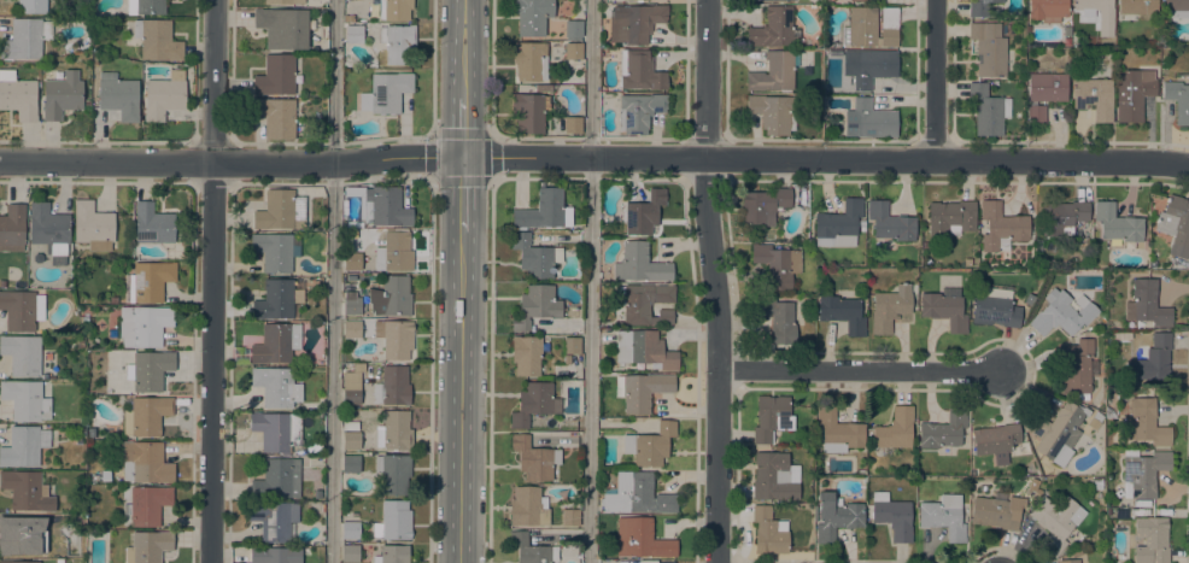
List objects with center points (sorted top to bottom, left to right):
building: (862, 0)
building: (281, 1)
building: (31, 6)
building: (146, 6)
building: (979, 7)
building: (394, 8)
building: (1135, 8)
building: (1176, 8)
building: (1048, 10)
building: (532, 16)
building: (1097, 16)
building: (638, 23)
building: (282, 27)
building: (871, 27)
building: (573, 28)
building: (774, 28)
building: (353, 34)
building: (25, 37)
building: (157, 40)
building: (396, 41)
building: (989, 48)
road: (462, 49)
building: (573, 49)
building: (529, 60)
building: (873, 66)
road: (433, 68)
road: (490, 68)
building: (639, 70)
building: (773, 71)
building: (275, 75)
road: (933, 80)
building: (543, 88)
building: (385, 93)
building: (1044, 93)
building: (1134, 93)
building: (61, 95)
building: (118, 95)
building: (18, 96)
building: (163, 96)
building: (1094, 96)
building: (1178, 100)
building: (87, 102)
building: (988, 110)
building: (638, 111)
building: (529, 112)
building: (773, 112)
building: (275, 116)
building: (869, 119)
building: (573, 124)
road: (462, 128)
road: (430, 135)
road: (594, 157)
road: (462, 194)
building: (381, 205)
building: (763, 205)
building: (281, 210)
building: (544, 211)
building: (640, 212)
building: (951, 217)
building: (1062, 217)
building: (890, 222)
building: (1117, 223)
building: (152, 224)
building: (838, 224)
building: (861, 224)
building: (1176, 224)
building: (92, 225)
building: (1001, 225)
building: (12, 228)
building: (48, 230)
building: (274, 251)
building: (394, 252)
building: (534, 257)
building: (352, 260)
building: (966, 262)
building: (639, 263)
building: (777, 264)
building: (148, 281)
road: (211, 281)
road: (332, 281)
road: (588, 281)
road: (714, 281)
building: (2, 282)
building: (391, 297)
building: (280, 299)
building: (644, 303)
building: (351, 304)
building: (1147, 304)
building: (535, 305)
building: (943, 306)
building: (889, 307)
building: (22, 309)
building: (995, 311)
building: (842, 312)
building: (1061, 313)
building: (778, 318)
building: (145, 324)
building: (351, 328)
building: (394, 338)
building: (276, 342)
building: (570, 345)
building: (644, 348)
building: (22, 353)
building: (527, 354)
building: (1154, 357)
building: (567, 359)
building: (1076, 366)
road: (859, 369)
building: (148, 370)
road: (429, 370)
road: (490, 370)
building: (396, 385)
building: (275, 386)
building: (643, 389)
building: (351, 394)
road: (461, 398)
building: (25, 400)
building: (534, 403)
building: (145, 415)
building: (771, 417)
building: (1144, 422)
building: (350, 426)
building: (1058, 428)
building: (895, 429)
building: (943, 429)
building: (276, 430)
building: (394, 430)
building: (837, 430)
building: (351, 440)
building: (995, 441)
building: (649, 444)
building: (24, 445)
building: (534, 458)
building: (145, 462)
building: (351, 463)
building: (393, 473)
building: (1142, 473)
building: (773, 477)
building: (277, 479)
building: (1096, 481)
building: (1033, 485)
building: (24, 489)
building: (317, 493)
building: (637, 494)
building: (147, 504)
building: (528, 506)
building: (995, 511)
building: (834, 516)
building: (892, 516)
building: (943, 516)
building: (570, 517)
building: (275, 520)
building: (393, 521)
building: (1054, 522)
building: (350, 529)
building: (769, 530)
building: (24, 533)
building: (640, 539)
building: (1150, 540)
building: (147, 546)
building: (531, 549)
building: (350, 552)
building: (392, 553)
building: (1077, 553)
building: (274, 555)
building: (59, 561)
building: (1068, 561)
building: (19, 562)
building: (664, 562)

